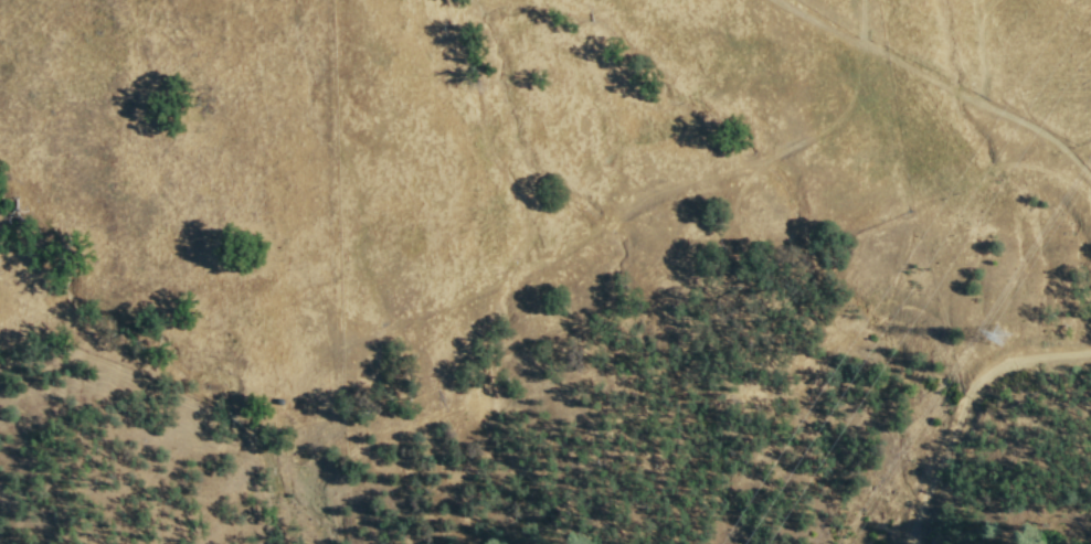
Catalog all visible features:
power tower: (1000, 337)

